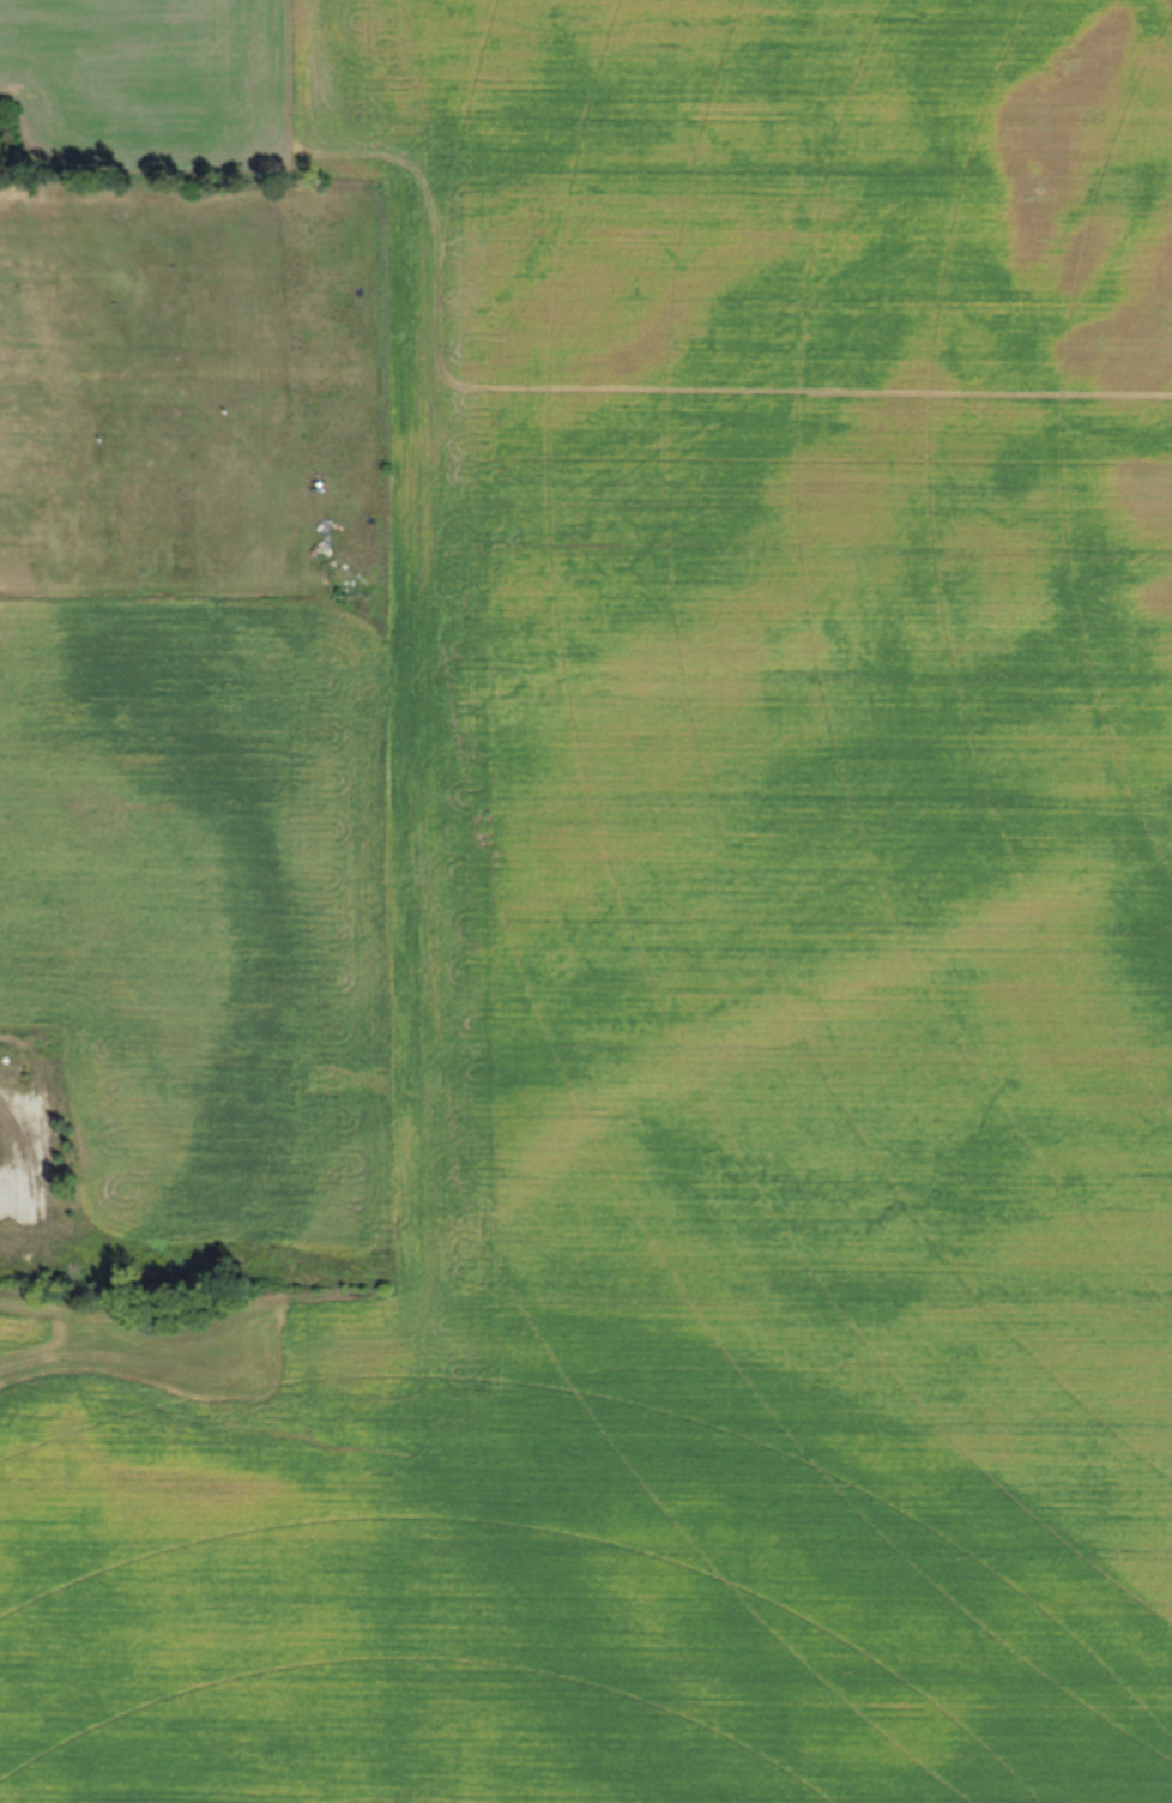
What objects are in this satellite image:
crop: (684, 943)

